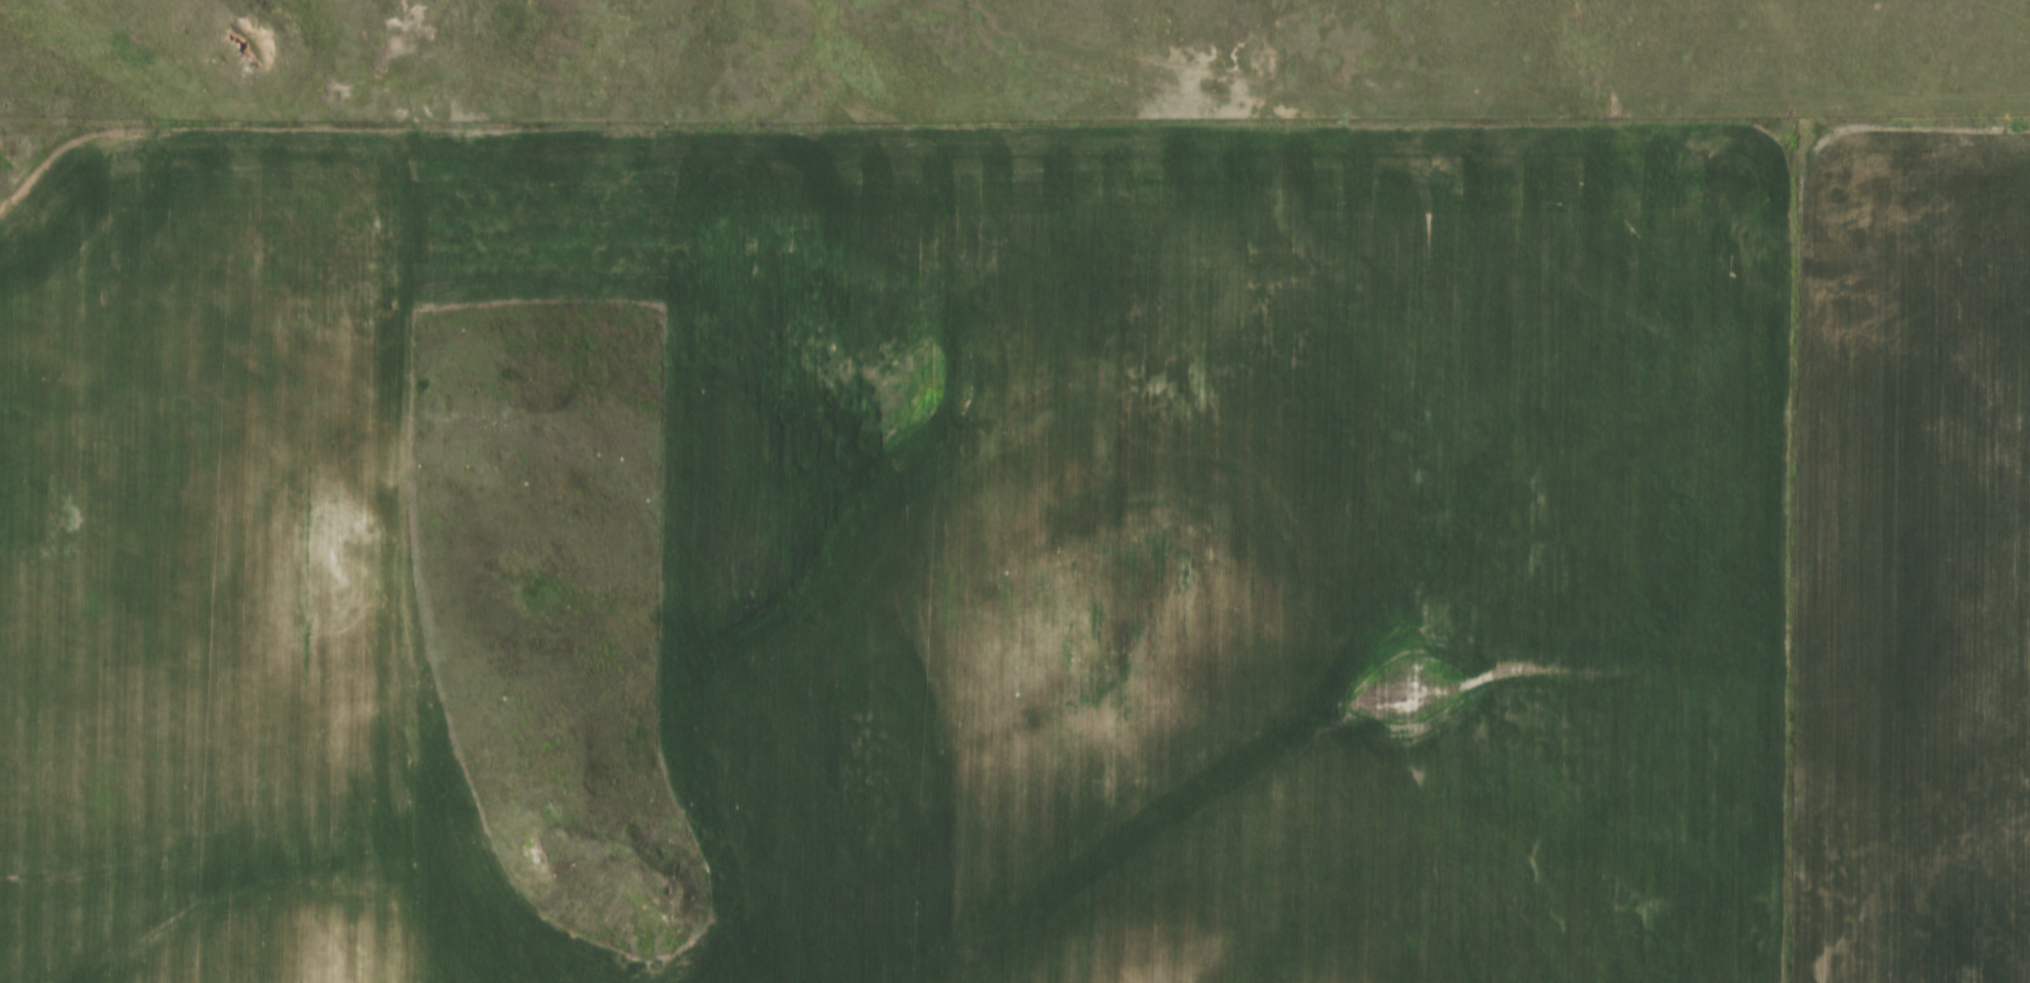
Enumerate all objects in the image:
road: (1782, 555)

